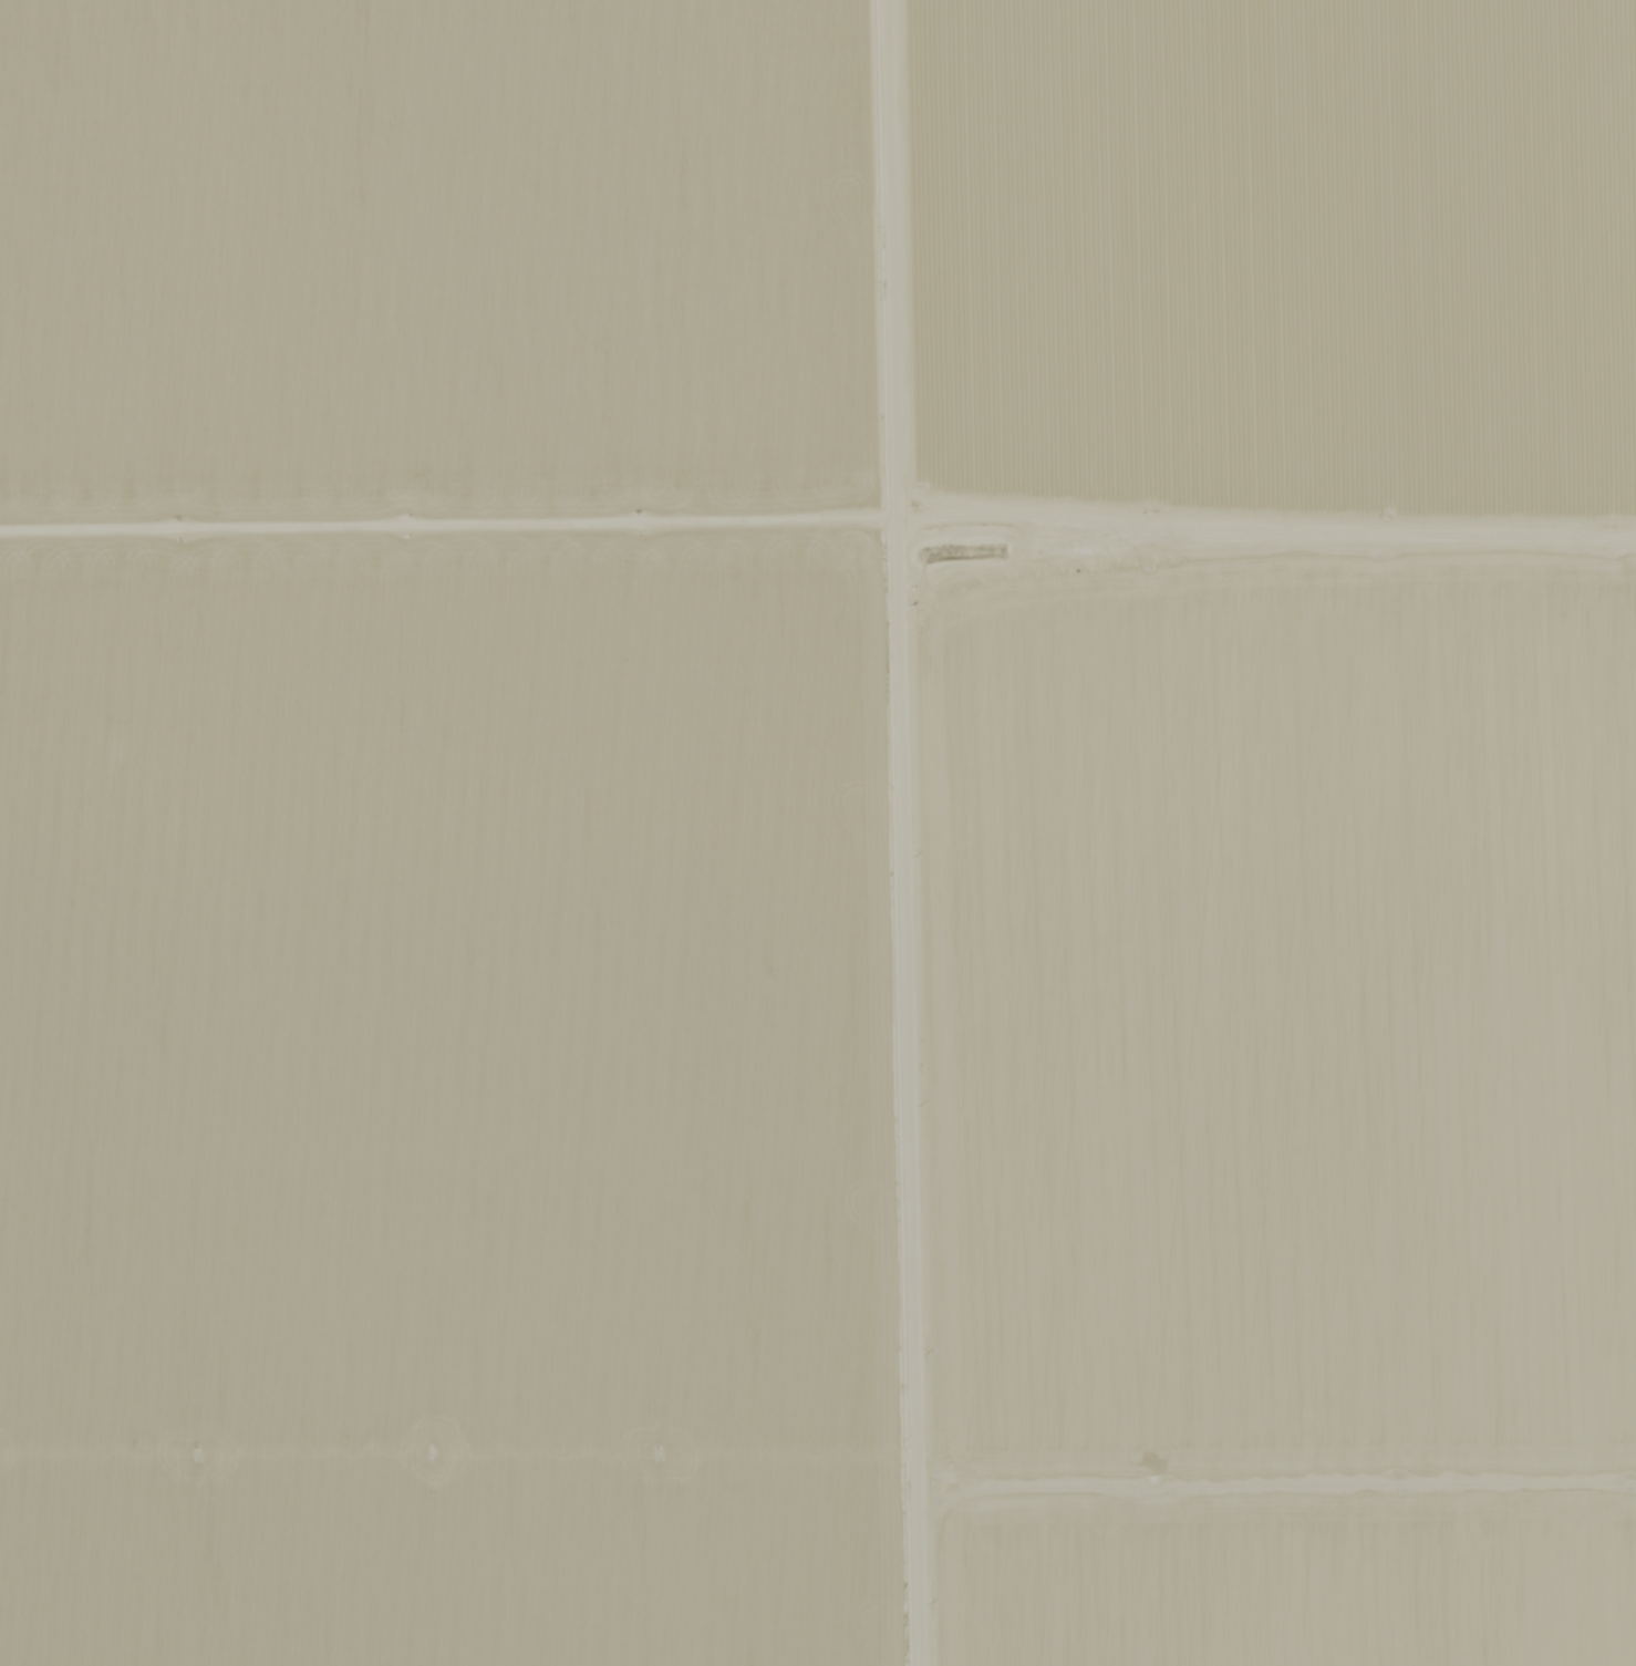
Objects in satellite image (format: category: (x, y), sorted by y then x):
crop: (1285, 279)
crop: (468, 283)
road: (910, 832)
crop: (1292, 1110)
crop: (474, 1117)

